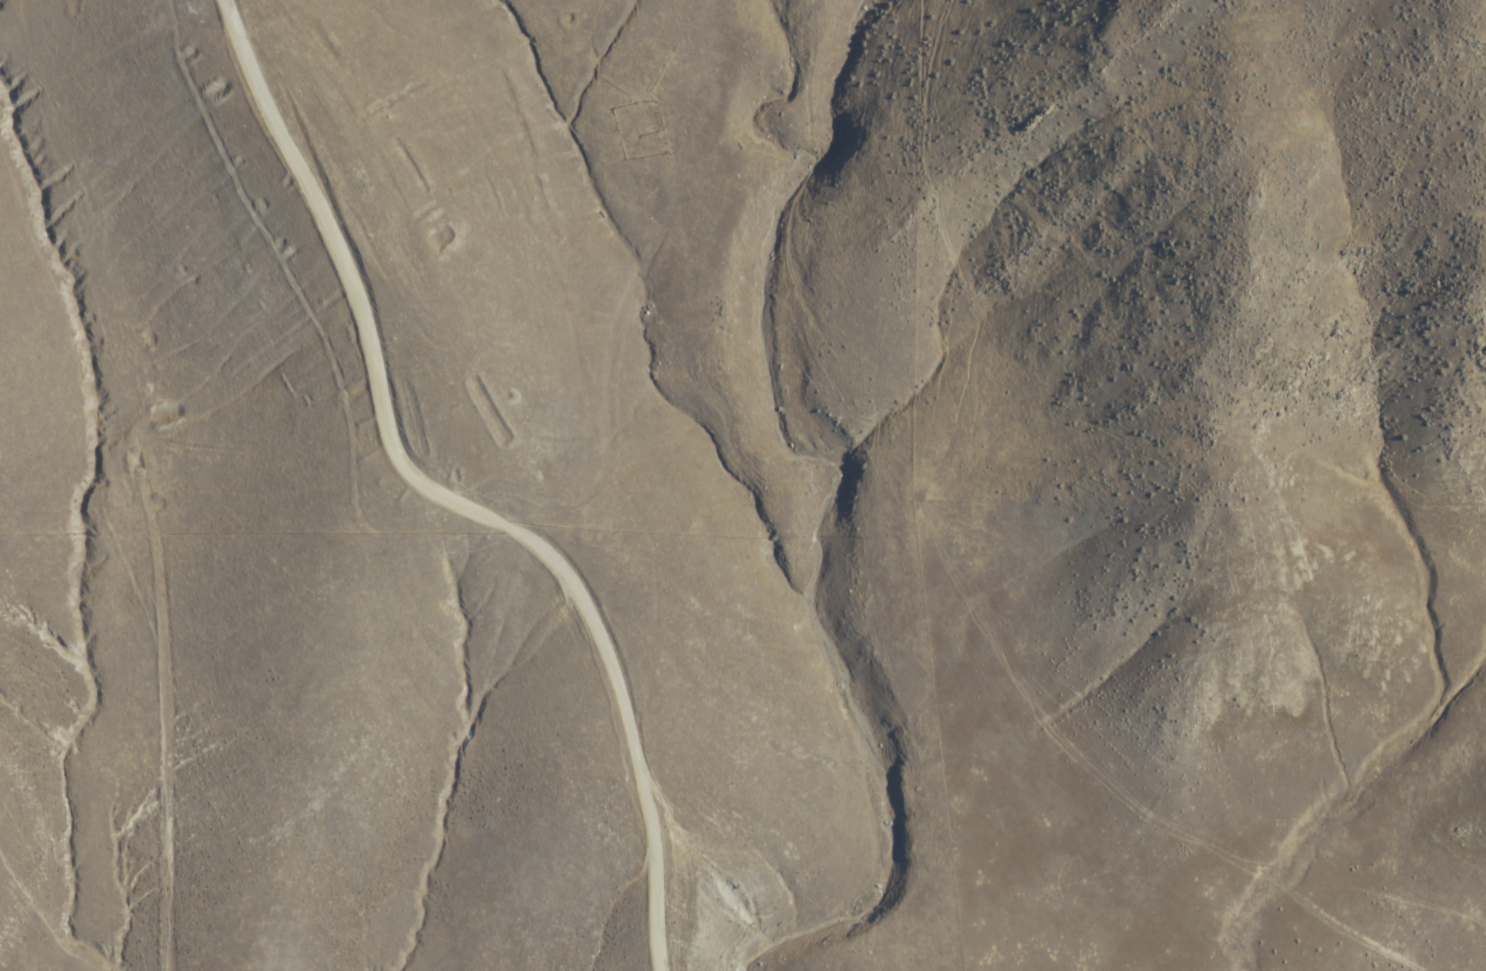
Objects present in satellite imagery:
road: (603, 277)
road: (443, 493)

